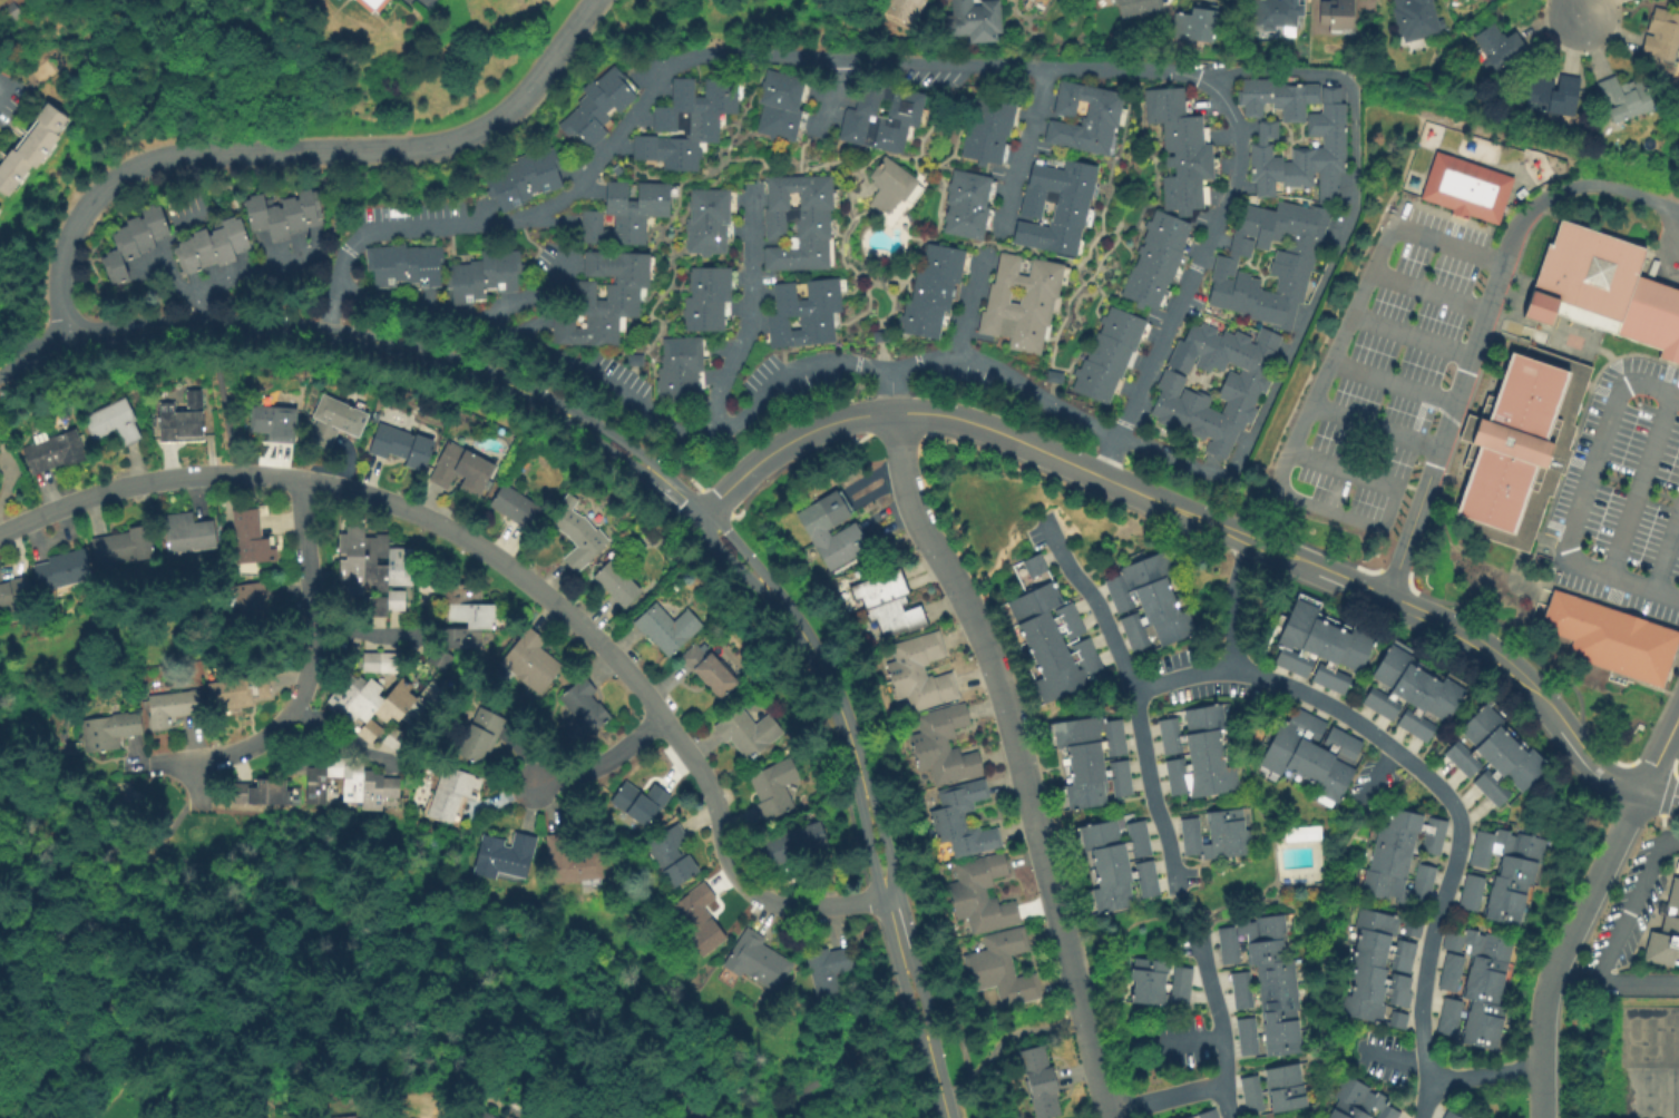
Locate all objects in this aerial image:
building: (1041, 2)
building: (380, 6)
building: (1136, 7)
building: (901, 9)
road: (1580, 9)
building: (13, 12)
building: (1275, 12)
building: (1337, 14)
building: (976, 18)
building: (1416, 19)
building: (1195, 23)
building: (1662, 36)
building: (1500, 46)
road: (926, 62)
road: (3, 89)
building: (1553, 96)
road: (833, 97)
building: (1277, 98)
building: (1624, 98)
building: (778, 105)
building: (596, 106)
building: (879, 117)
building: (1082, 117)
building: (685, 122)
building: (986, 129)
building: (35, 150)
building: (1178, 150)
road: (1025, 151)
road: (296, 153)
building: (1305, 153)
building: (518, 179)
road: (213, 184)
building: (887, 185)
building: (1467, 187)
building: (967, 189)
building: (710, 206)
building: (1052, 206)
building: (1, 212)
building: (624, 212)
building: (287, 214)
building: (963, 219)
building: (795, 220)
road: (1348, 223)
building: (702, 237)
building: (129, 241)
building: (215, 247)
road: (344, 248)
building: (1153, 259)
building: (940, 261)
building: (402, 265)
building: (1291, 265)
building: (481, 275)
building: (1582, 279)
building: (709, 282)
building: (929, 290)
road: (1428, 294)
road: (529, 296)
building: (804, 297)
building: (597, 300)
building: (1019, 301)
road: (276, 303)
building: (1633, 310)
building: (700, 313)
road: (750, 313)
road: (968, 314)
building: (1648, 315)
road: (1503, 316)
building: (918, 318)
road: (329, 321)
road: (160, 327)
building: (797, 328)
building: (1667, 328)
road: (1482, 330)
road: (1412, 337)
road: (1595, 350)
building: (681, 352)
building: (1106, 355)
road: (457, 363)
parking lot: (1397, 365)
road: (924, 366)
building: (1559, 373)
road: (1393, 383)
building: (674, 384)
road: (894, 391)
building: (1241, 391)
road: (619, 394)
road: (1037, 396)
building: (1552, 404)
road: (225, 411)
building: (65, 414)
building: (377, 415)
building: (184, 418)
building: (279, 419)
building: (338, 419)
building: (116, 420)
building: (155, 420)
road: (1301, 423)
building: (1548, 423)
road: (1375, 429)
building: (1543, 435)
building: (1495, 438)
road: (618, 441)
building: (404, 444)
road: (787, 445)
building: (56, 450)
road: (607, 452)
building: (1539, 454)
road: (1171, 458)
road: (1077, 467)
building: (465, 468)
building: (1529, 478)
road: (1641, 483)
parking lot: (1624, 493)
road: (674, 496)
road: (1583, 501)
building: (517, 504)
building: (1512, 516)
building: (847, 531)
building: (191, 532)
building: (579, 532)
building: (253, 536)
building: (127, 545)
road: (739, 547)
road: (1667, 555)
road: (726, 559)
building: (369, 560)
building: (1033, 563)
building: (65, 569)
road: (516, 571)
building: (1136, 572)
building: (621, 582)
building: (14, 590)
building: (1139, 594)
building: (247, 600)
building: (1032, 600)
building: (887, 601)
road: (1234, 605)
road: (1097, 607)
building: (1148, 612)
building: (1044, 619)
building: (467, 620)
building: (1170, 624)
building: (1570, 624)
building: (664, 627)
building: (1291, 631)
building: (1052, 637)
road: (1467, 637)
building: (1135, 638)
building: (1309, 644)
building: (1354, 647)
building: (1631, 649)
building: (1327, 651)
building: (1061, 655)
building: (436, 657)
building: (534, 660)
building: (1389, 663)
building: (712, 669)
road: (308, 671)
building: (919, 671)
building: (1065, 678)
building: (1335, 681)
building: (1399, 687)
building: (237, 693)
building: (1444, 696)
building: (1370, 697)
building: (1416, 698)
building: (381, 703)
building: (172, 707)
building: (585, 710)
building: (1205, 717)
building: (1480, 722)
road: (1359, 725)
building: (1165, 726)
building: (1419, 728)
building: (1084, 729)
building: (108, 730)
building: (748, 732)
building: (480, 735)
road: (344, 741)
building: (1281, 741)
building: (1188, 742)
building: (941, 745)
building: (1302, 745)
building: (1346, 745)
road: (1658, 748)
building: (1093, 749)
building: (1481, 749)
building: (1453, 752)
building: (1320, 754)
road: (1017, 758)
building: (1192, 761)
road: (601, 763)
road: (857, 764)
building: (1496, 764)
building: (1522, 768)
building: (1096, 769)
building: (344, 781)
building: (1202, 781)
building: (1330, 783)
road: (1668, 783)
road: (198, 784)
building: (1119, 785)
building: (773, 787)
building: (263, 792)
building: (451, 793)
building: (1082, 793)
building: (1494, 793)
road: (1658, 794)
building: (640, 801)
building: (961, 818)
building: (1221, 820)
building: (1415, 822)
building: (1187, 825)
building: (1134, 828)
building: (1299, 832)
building: (1095, 833)
building: (1394, 838)
building: (793, 843)
building: (1217, 843)
building: (1429, 843)
building: (1507, 844)
road: (97, 849)
building: (1117, 851)
building: (505, 855)
building: (671, 855)
building: (1476, 857)
building: (569, 861)
building: (1388, 862)
building: (1513, 867)
building: (1121, 871)
building: (1423, 873)
building: (1471, 883)
building: (1145, 885)
building: (1392, 886)
building: (1504, 887)
building: (982, 895)
building: (1106, 896)
building: (1467, 900)
road: (1630, 904)
building: (1500, 910)
building: (695, 920)
building: (1383, 922)
road: (393, 923)
building: (1250, 929)
building: (1665, 930)
road: (114, 934)
building: (1370, 939)
building: (1477, 943)
road: (1559, 945)
building: (1403, 948)
building: (1261, 950)
building: (1227, 953)
building: (1366, 954)
building: (756, 961)
building: (1449, 961)
building: (1399, 962)
building: (828, 968)
building: (1002, 968)
building: (1485, 968)
building: (1145, 969)
road: (900, 970)
building: (1365, 971)
building: (1273, 972)
building: (1180, 974)
building: (1446, 979)
building: (1237, 980)
building: (1398, 981)
road: (1612, 984)
building: (1365, 989)
building: (1480, 989)
building: (1146, 991)
building: (1177, 993)
building: (1398, 996)
building: (1276, 997)
building: (1239, 998)
building: (1447, 1007)
road: (923, 1009)
building: (1368, 1010)
building: (1484, 1012)
building: (1277, 1020)
road: (912, 1023)
building: (1444, 1024)
building: (1243, 1026)
road: (1220, 1027)
building: (1478, 1034)
building: (1279, 1042)
building: (1246, 1043)
road: (994, 1052)
road: (839, 1061)
building: (1649, 1063)
building: (1280, 1075)
road: (1484, 1075)
road: (936, 1082)
building: (1039, 1082)
building: (1247, 1083)
road: (961, 1094)
building: (1361, 1096)
building: (1285, 1097)
road: (1165, 1099)
building: (1250, 1101)
road: (943, 1110)
building: (1345, 1110)
building: (481, 1114)
building: (1205, 1114)
building: (1447, 1115)
building: (1184, 1117)
building: (1326, 1117)
building: (1468, 1117)

